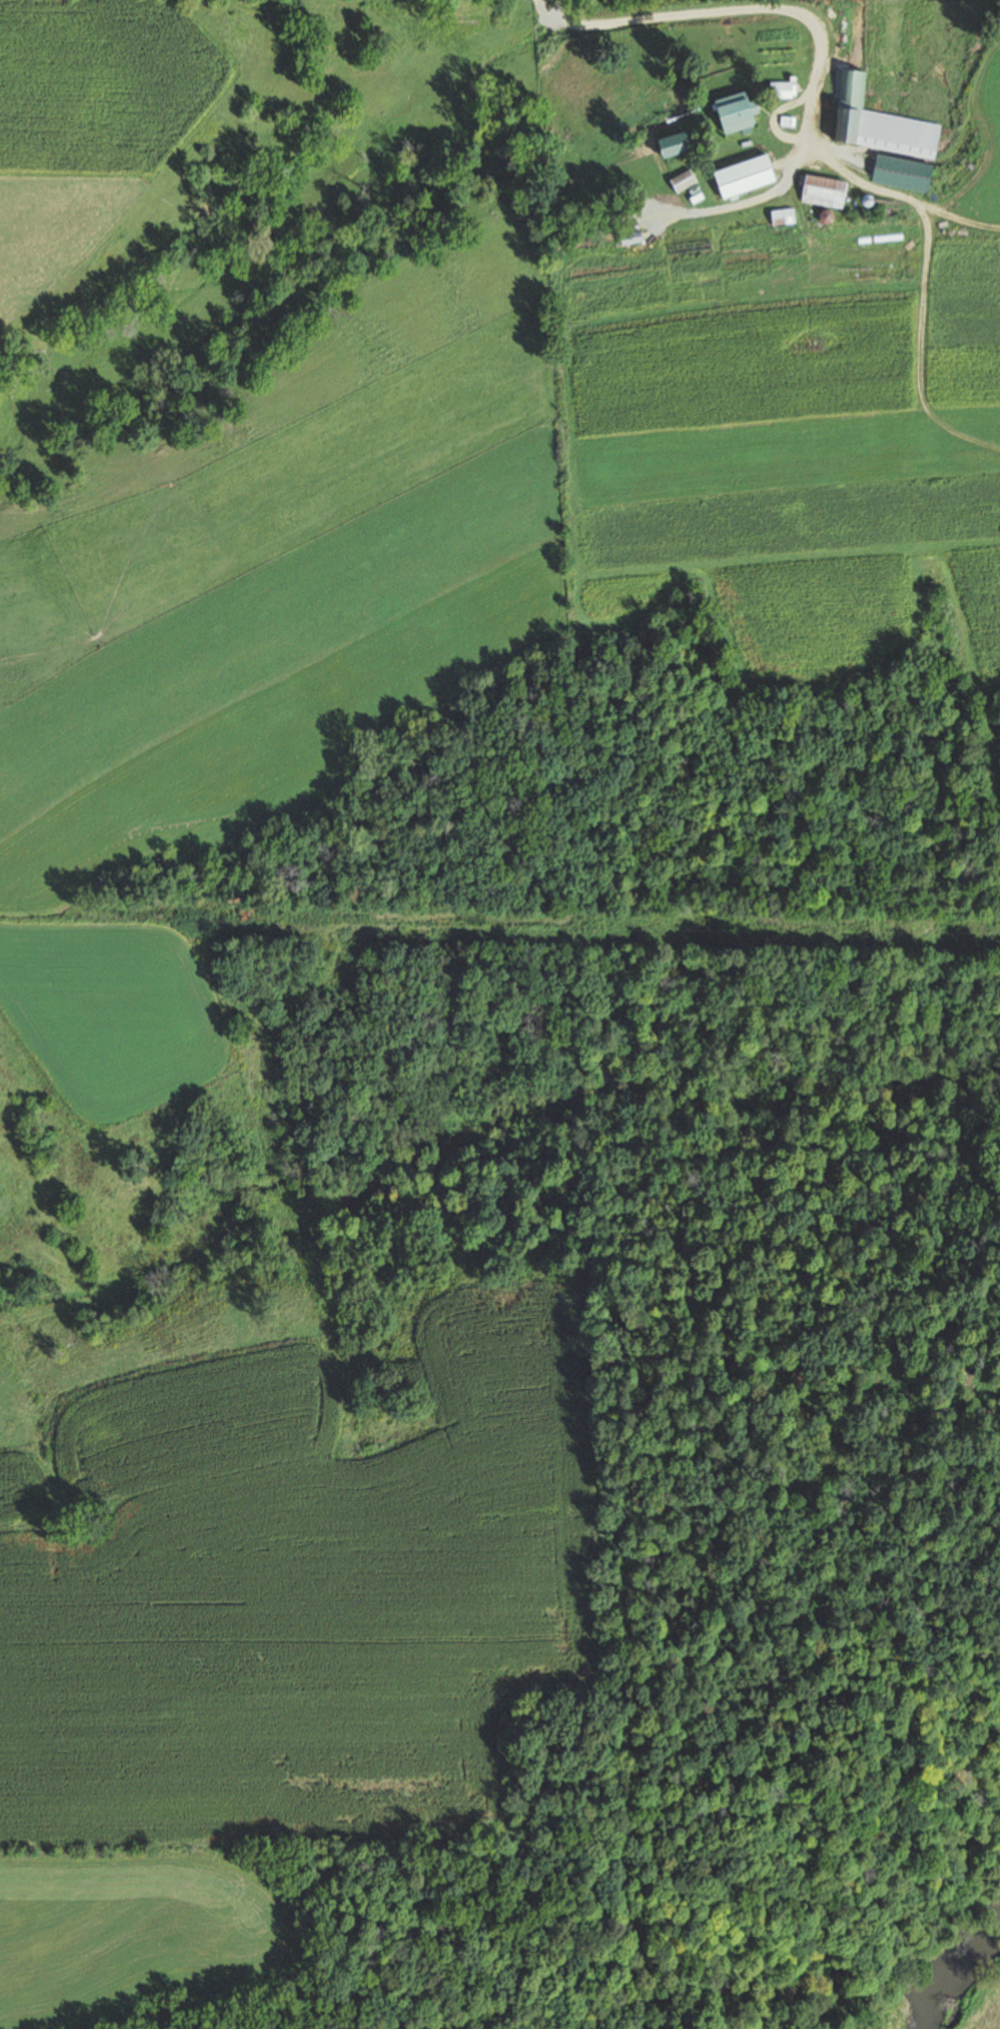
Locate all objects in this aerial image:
road: (545, 9)
road: (696, 15)
building: (732, 113)
building: (876, 120)
building: (742, 177)
building: (685, 189)
building: (822, 192)
building: (643, 204)
building: (782, 217)
building: (755, 252)
river: (954, 1965)

